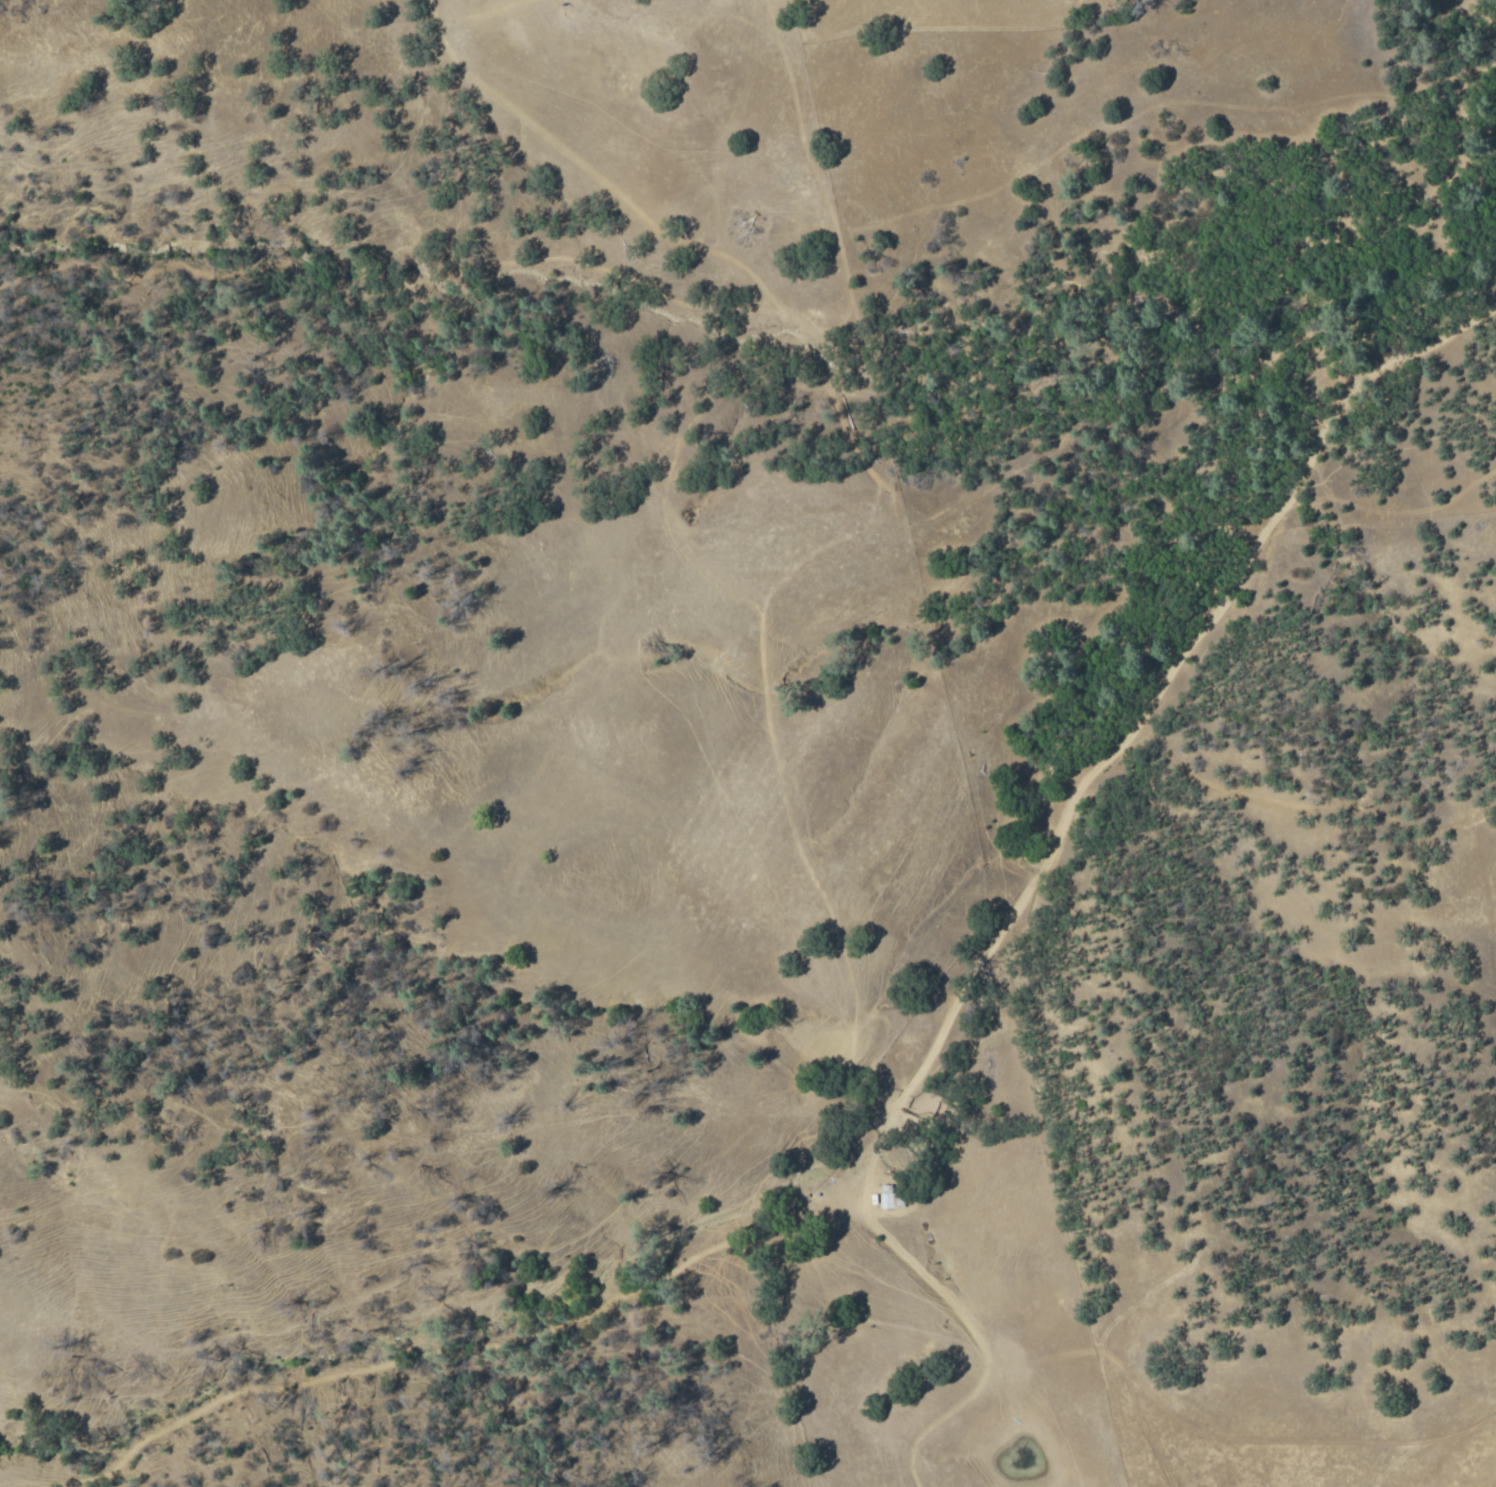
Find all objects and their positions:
building: (889, 1197)

